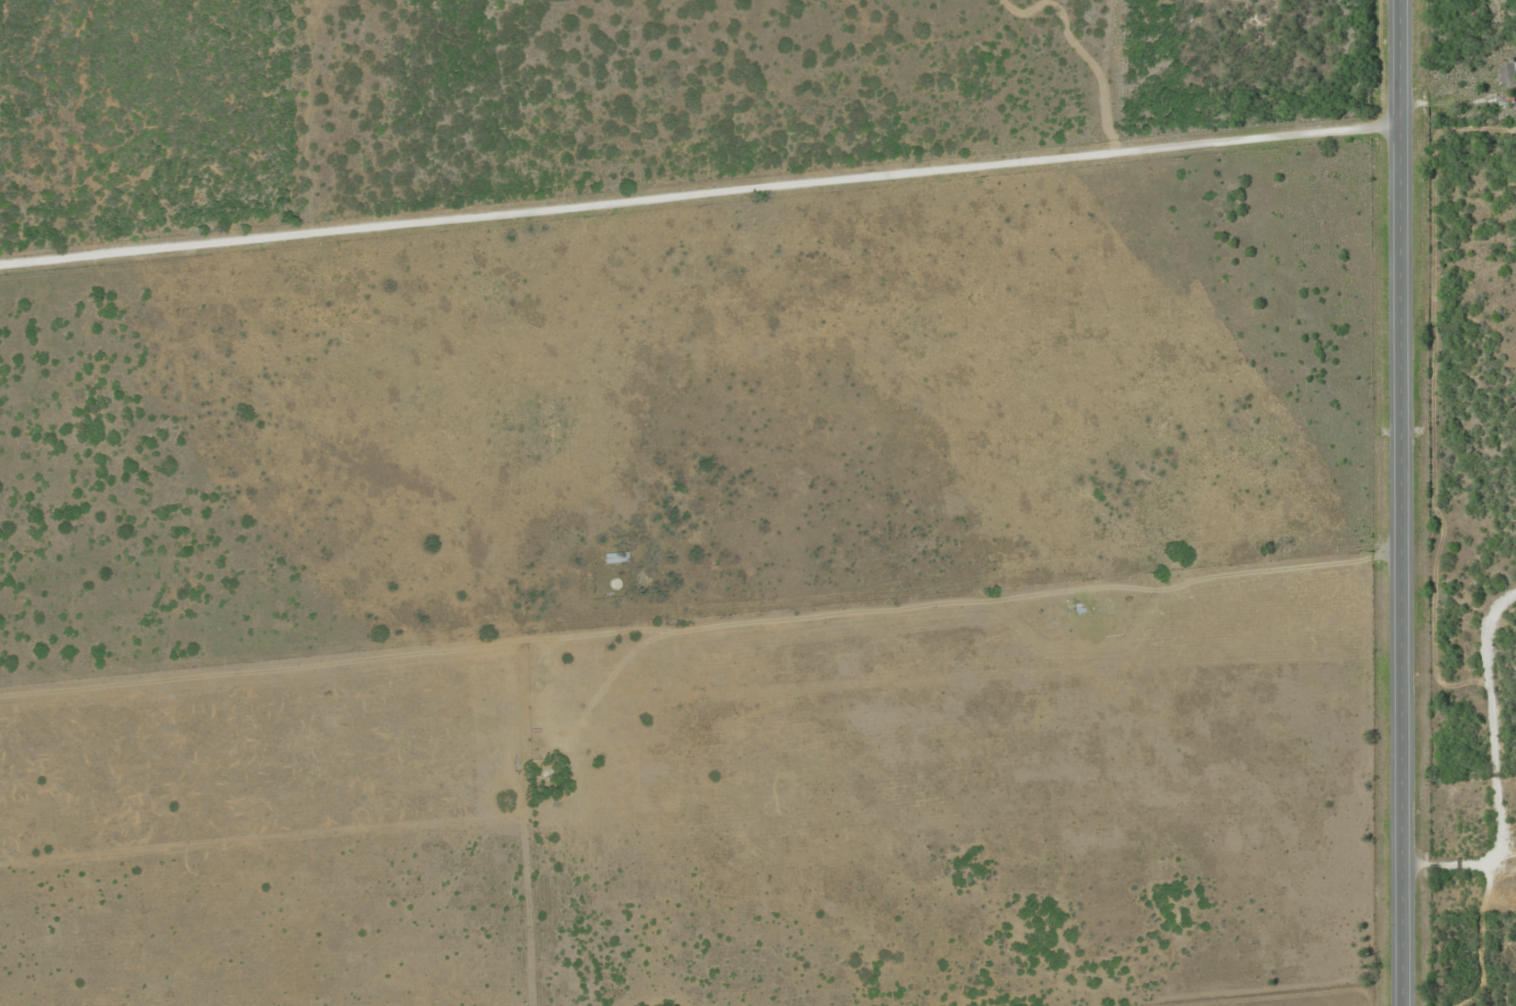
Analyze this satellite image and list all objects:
building: (1508, 72)
road: (698, 168)
road: (1397, 503)
building: (614, 557)

